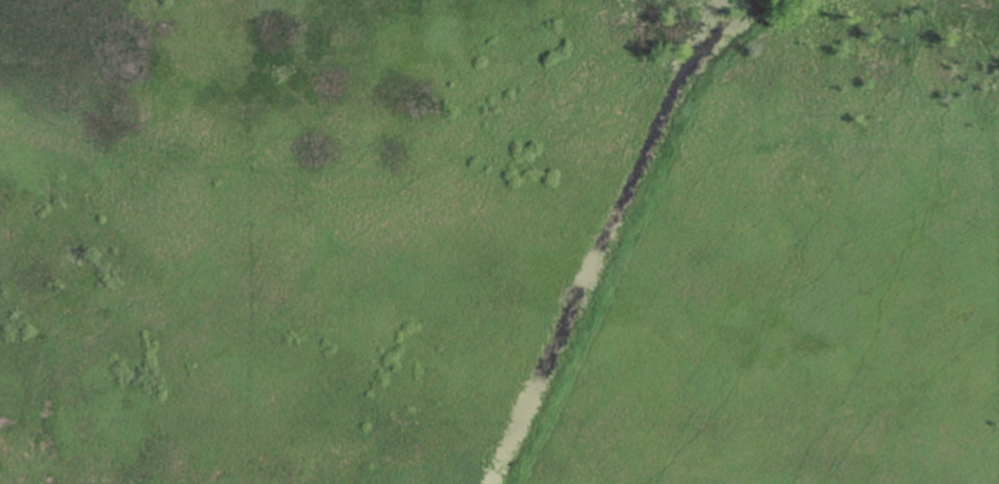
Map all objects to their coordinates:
building: (995, 421)

